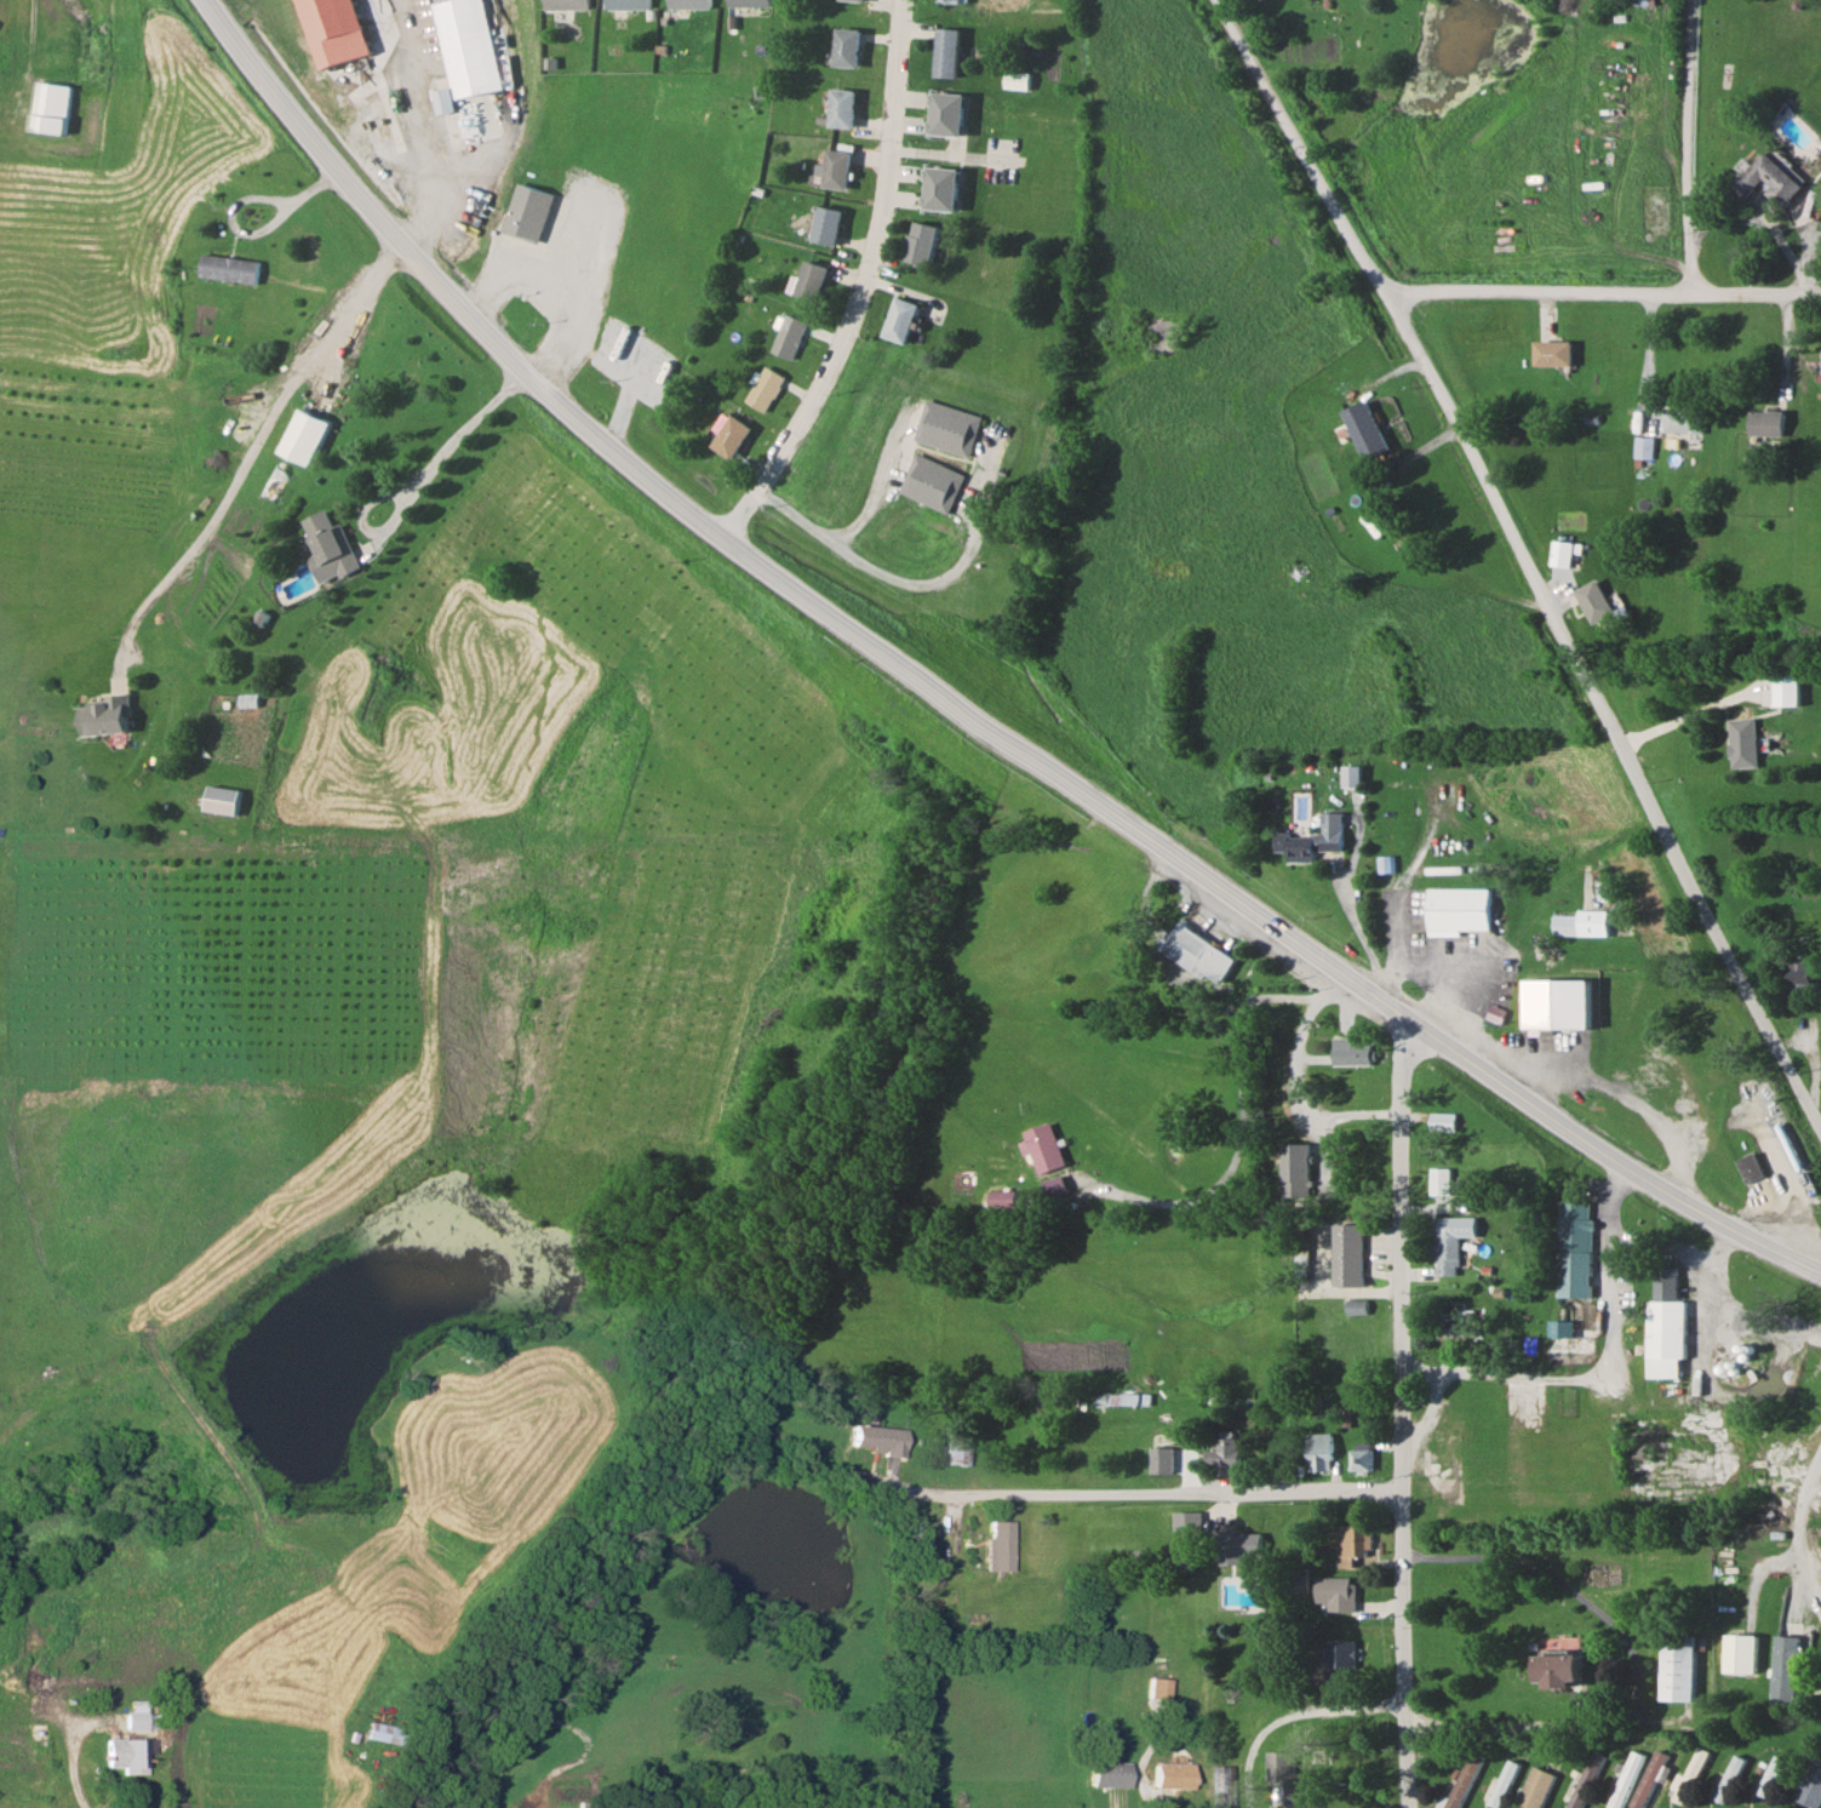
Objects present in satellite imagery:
building: (853, 0)
building: (949, 1)
building: (1643, 1)
building: (749, 2)
building: (566, 4)
building: (626, 4)
building: (688, 4)
building: (334, 29)
road: (1244, 45)
building: (846, 47)
building: (460, 50)
building: (946, 52)
road: (28, 53)
building: (50, 107)
building: (842, 108)
building: (945, 113)
road: (416, 120)
road: (1690, 145)
building: (836, 168)
building: (1768, 179)
road: (311, 185)
building: (939, 188)
building: (523, 212)
building: (825, 224)
road: (256, 228)
building: (920, 242)
road: (408, 247)
building: (227, 268)
building: (811, 280)
road: (866, 288)
road: (1539, 291)
road: (1756, 292)
road: (550, 294)
building: (900, 319)
road: (353, 324)
building: (788, 336)
building: (1552, 353)
building: (765, 388)
building: (1683, 419)
building: (1768, 422)
building: (946, 425)
road: (473, 427)
building: (1365, 430)
building: (731, 436)
building: (303, 437)
building: (1643, 447)
building: (928, 481)
road: (410, 505)
building: (328, 548)
building: (1564, 553)
road: (887, 579)
building: (1594, 601)
road: (1551, 608)
building: (1789, 688)
road: (1693, 710)
building: (104, 715)
building: (1745, 742)
building: (1315, 840)
road: (1216, 887)
building: (1460, 909)
building: (1565, 925)
building: (1197, 954)
building: (1799, 973)
road: (1270, 997)
building: (1551, 1008)
building: (1355, 1052)
road: (1287, 1091)
building: (1445, 1121)
road: (1235, 1126)
building: (1042, 1148)
building: (1750, 1167)
building: (1294, 1169)
building: (1442, 1180)
building: (1002, 1198)
building: (1573, 1248)
building: (1351, 1254)
building: (1450, 1254)
building: (1665, 1282)
building: (1458, 1320)
building: (1665, 1337)
road: (1405, 1415)
building: (878, 1437)
building: (956, 1449)
building: (1321, 1451)
building: (1226, 1453)
building: (1363, 1457)
road: (1157, 1493)
road: (1799, 1499)
building: (1187, 1523)
building: (918, 1543)
building: (1355, 1543)
building: (1238, 1544)
building: (998, 1545)
road: (1763, 1567)
building: (1301, 1579)
road: (1565, 1587)
building: (1339, 1592)
building: (1341, 1653)
building: (1741, 1653)
building: (1679, 1666)
building: (1785, 1669)
building: (93, 1682)
building: (1158, 1687)
road: (1288, 1713)
building: (132, 1715)
road: (1531, 1728)
building: (378, 1732)
road: (76, 1737)
building: (121, 1753)
building: (1110, 1774)
building: (1172, 1775)
building: (1627, 1775)
building: (1690, 1775)
building: (1288, 1778)
building: (1771, 1778)
building: (1505, 1779)
building: (1586, 1779)
building: (1649, 1779)
building: (1729, 1779)
building: (1459, 1784)
building: (1220, 1785)
building: (1810, 1786)
building: (1536, 1787)

